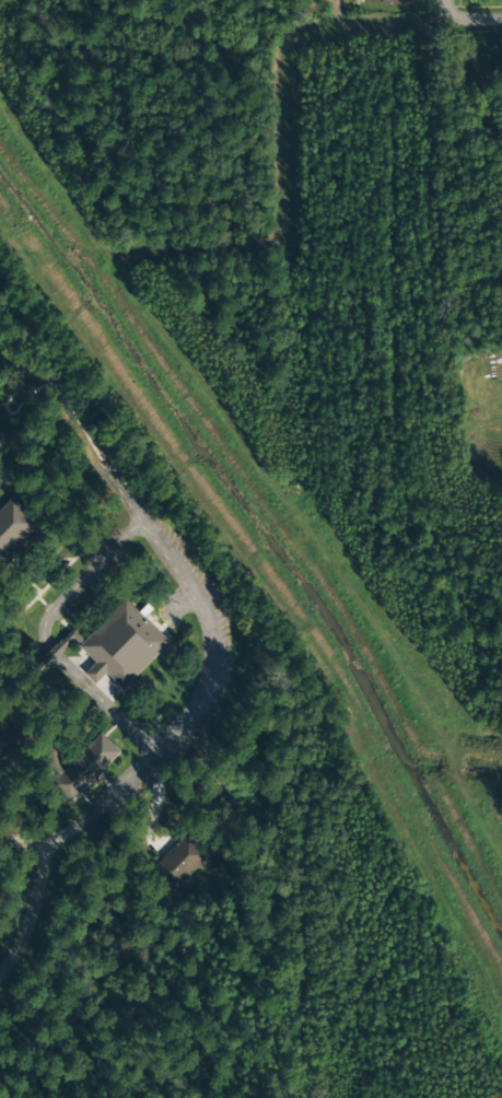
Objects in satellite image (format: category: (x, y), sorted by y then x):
building: (390, 1)
road: (460, 16)
road: (492, 17)
park: (475, 410)
building: (121, 646)
building: (2, 733)
building: (86, 767)
building: (183, 862)
road: (28, 918)

